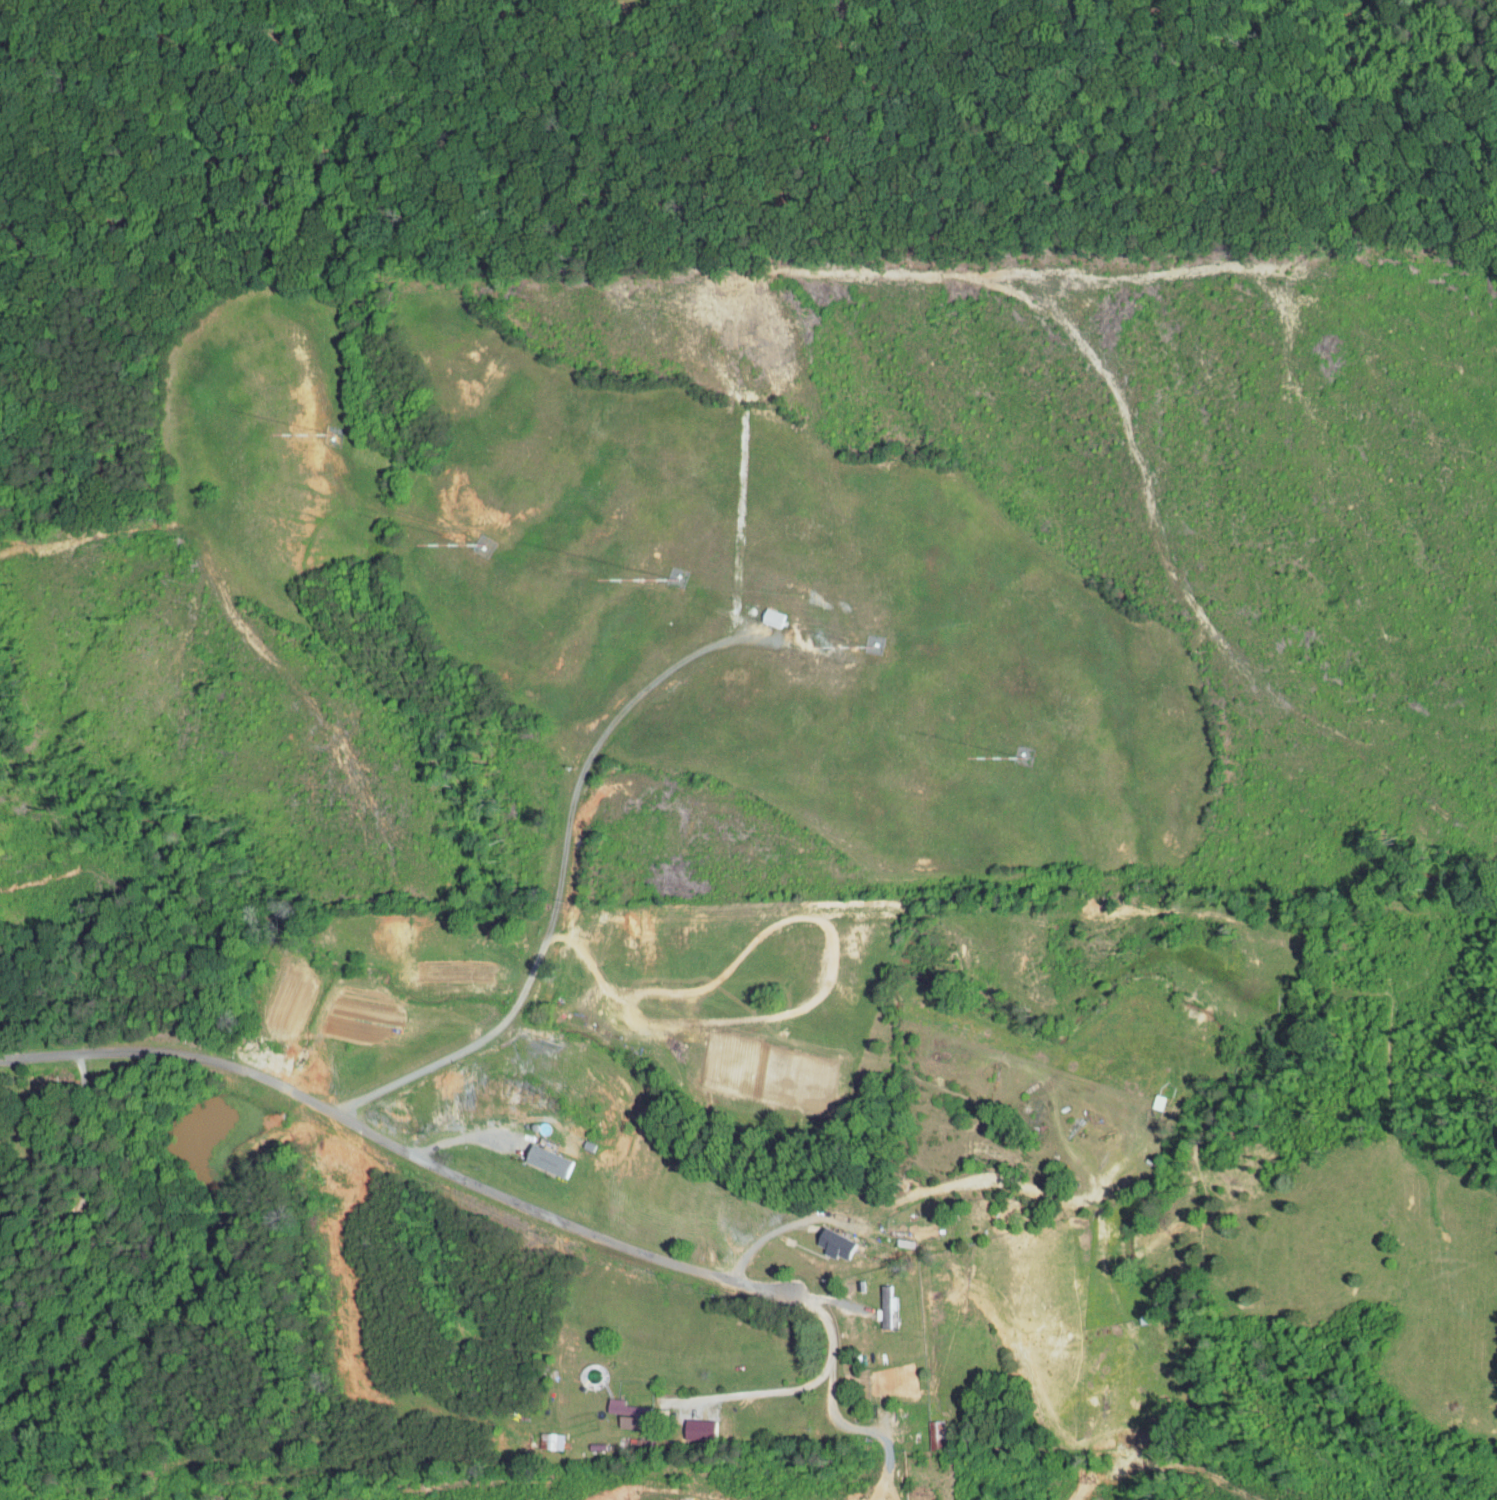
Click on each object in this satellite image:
building: (759, 612)
road: (562, 878)
road: (177, 1059)
road: (467, 1137)
building: (534, 1155)
road: (83, 1174)
road: (592, 1233)
road: (765, 1236)
building: (821, 1239)
building: (877, 1300)
road: (794, 1387)
building: (611, 1403)
road: (835, 1414)
building: (684, 1424)
building: (541, 1436)

